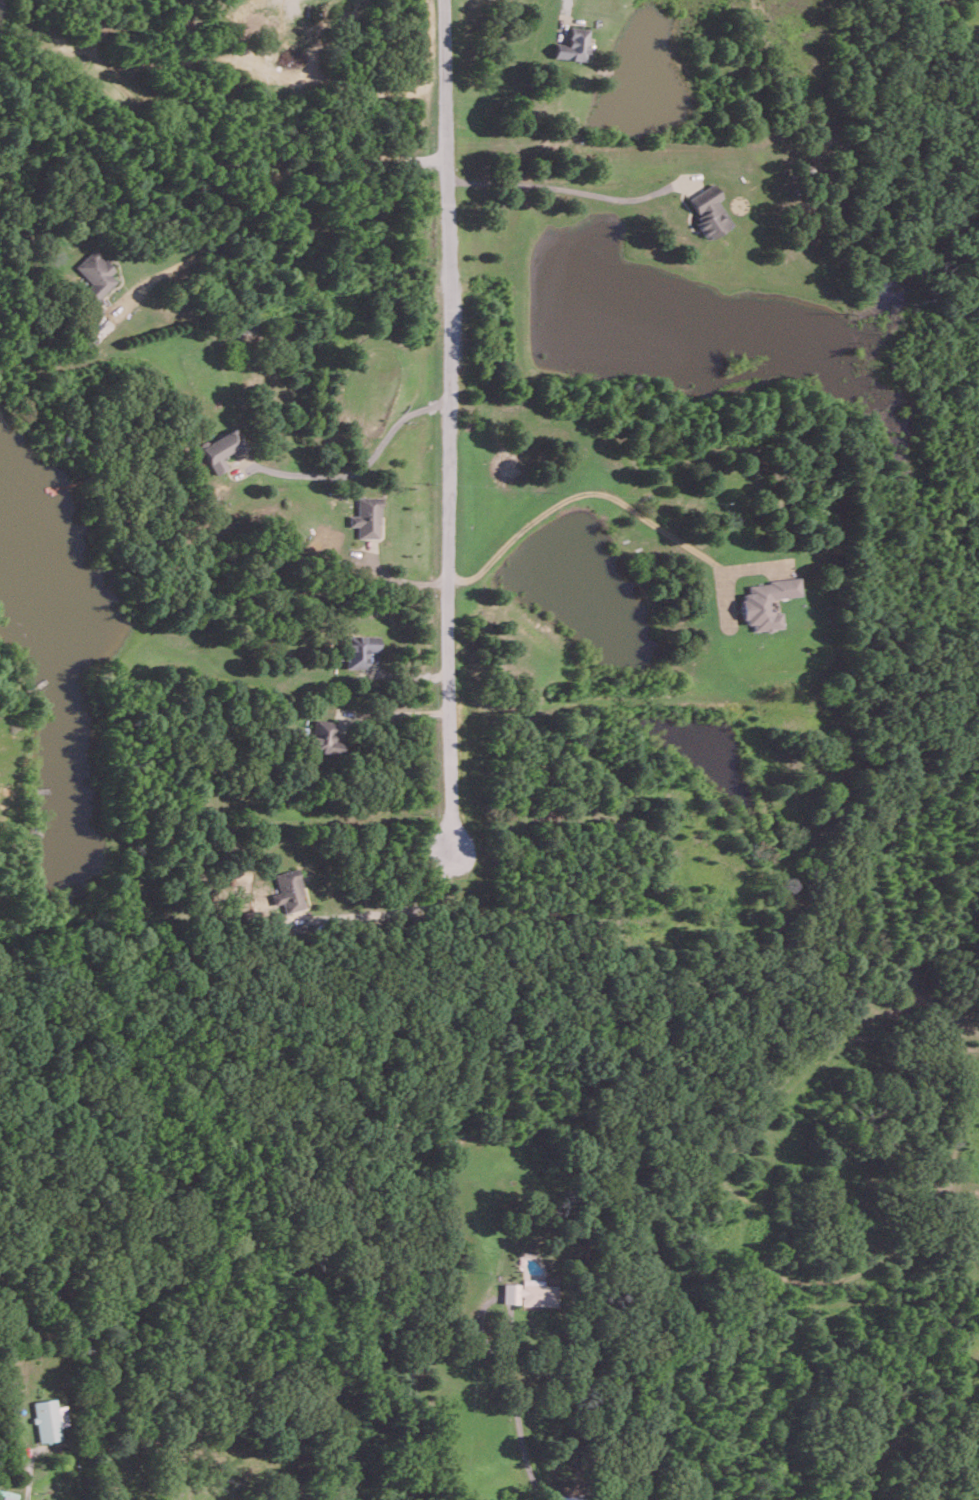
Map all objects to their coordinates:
building: (572, 44)
road: (264, 187)
road: (562, 188)
building: (708, 211)
building: (94, 272)
road: (445, 422)
building: (223, 448)
road: (357, 469)
road: (585, 489)
building: (367, 517)
building: (766, 602)
building: (359, 649)
road: (397, 712)
building: (324, 737)
building: (289, 891)
road: (406, 909)
building: (530, 1293)
road: (490, 1299)
building: (49, 1419)
road: (518, 1434)
road: (27, 1484)

